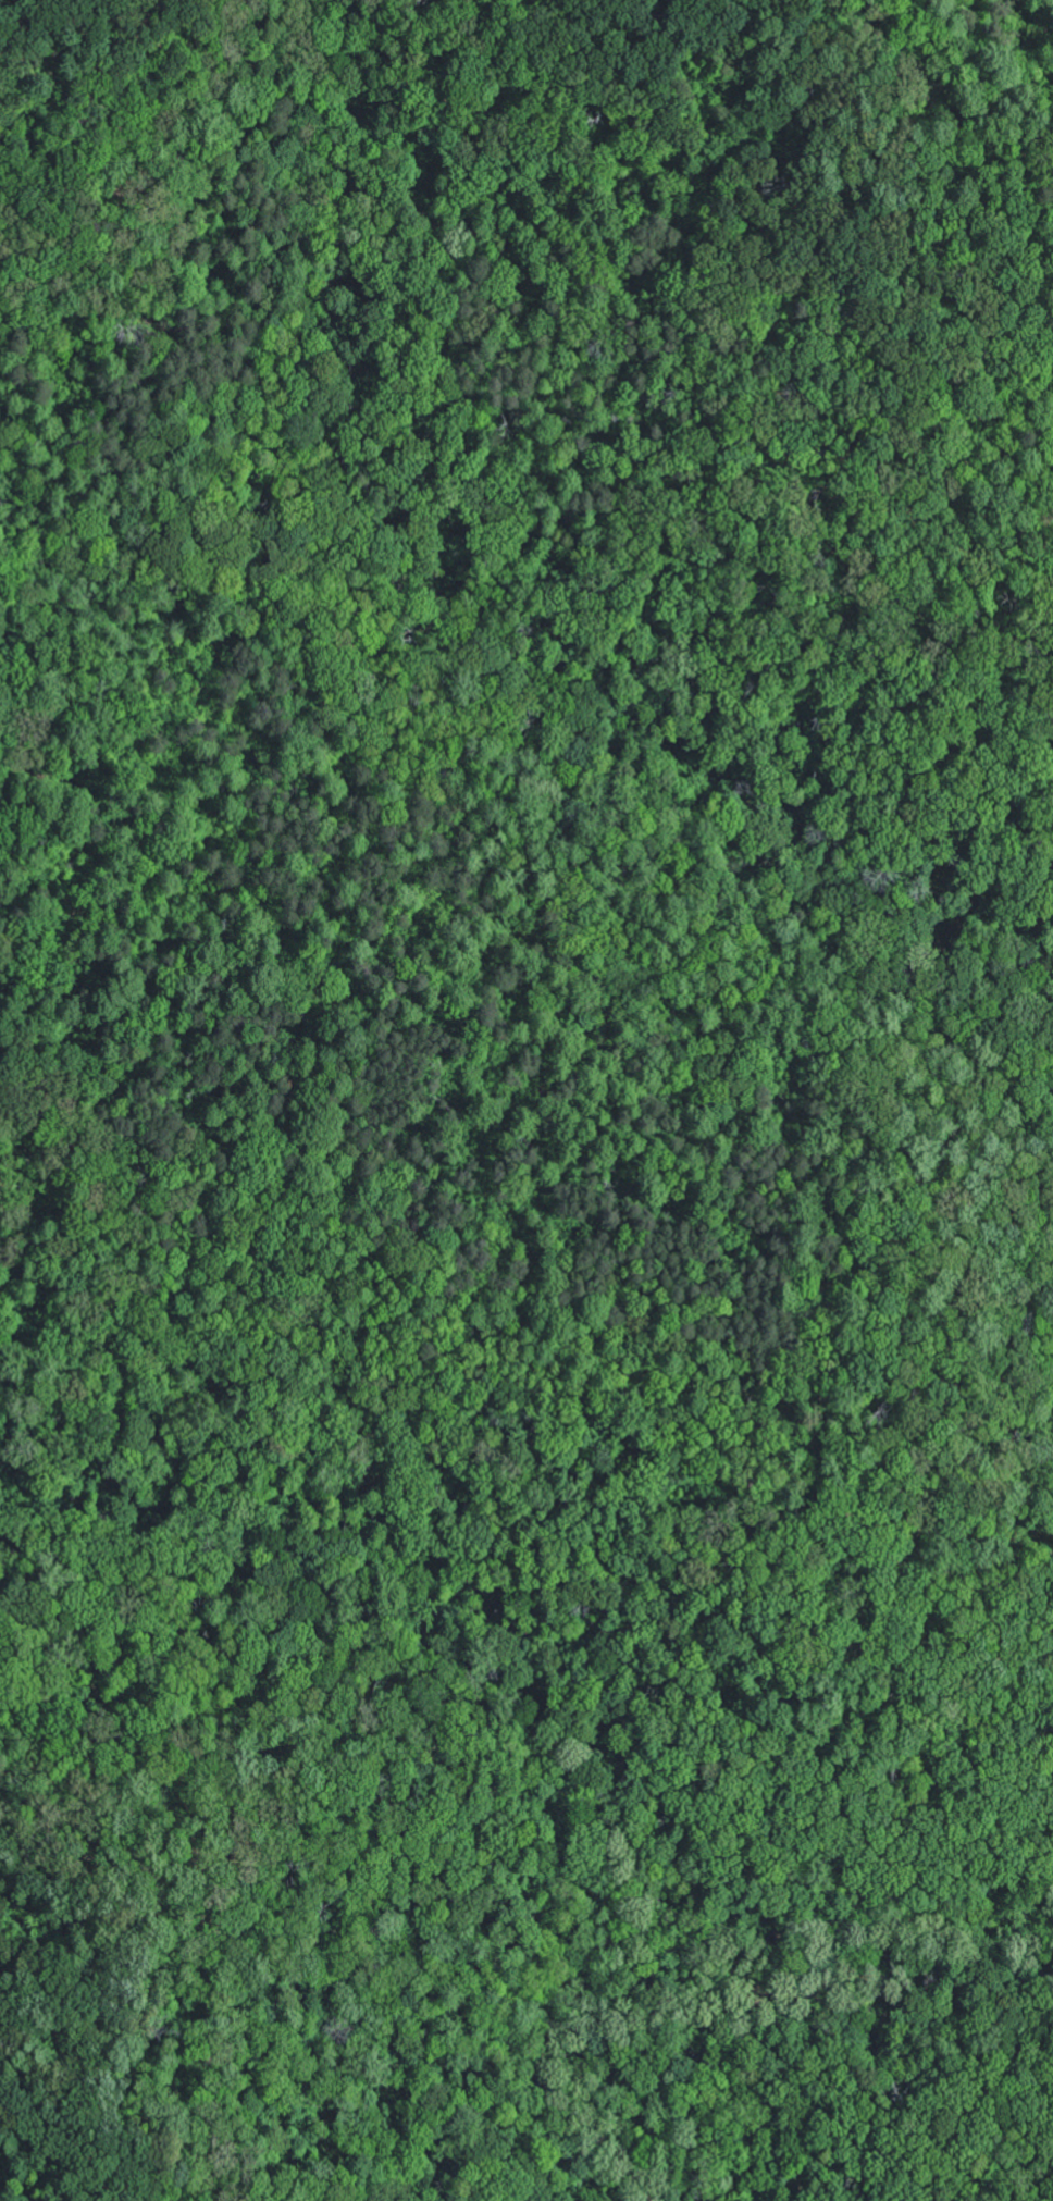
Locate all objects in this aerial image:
road: (223, 2005)
road: (822, 2079)

